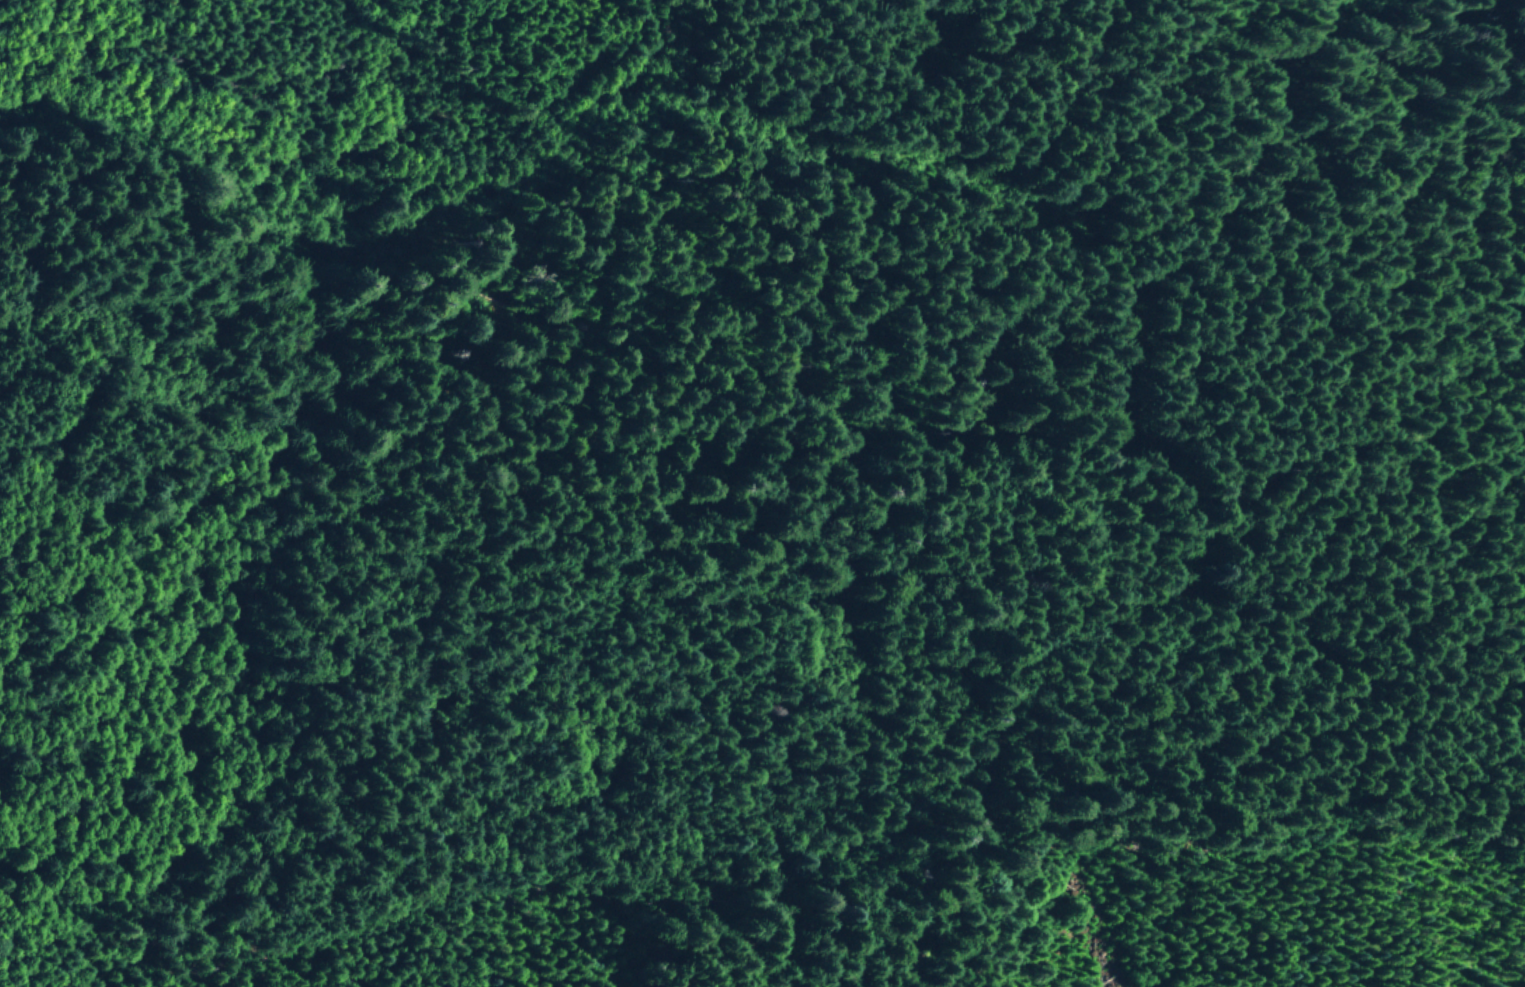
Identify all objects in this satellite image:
road: (564, 207)
road: (126, 402)

